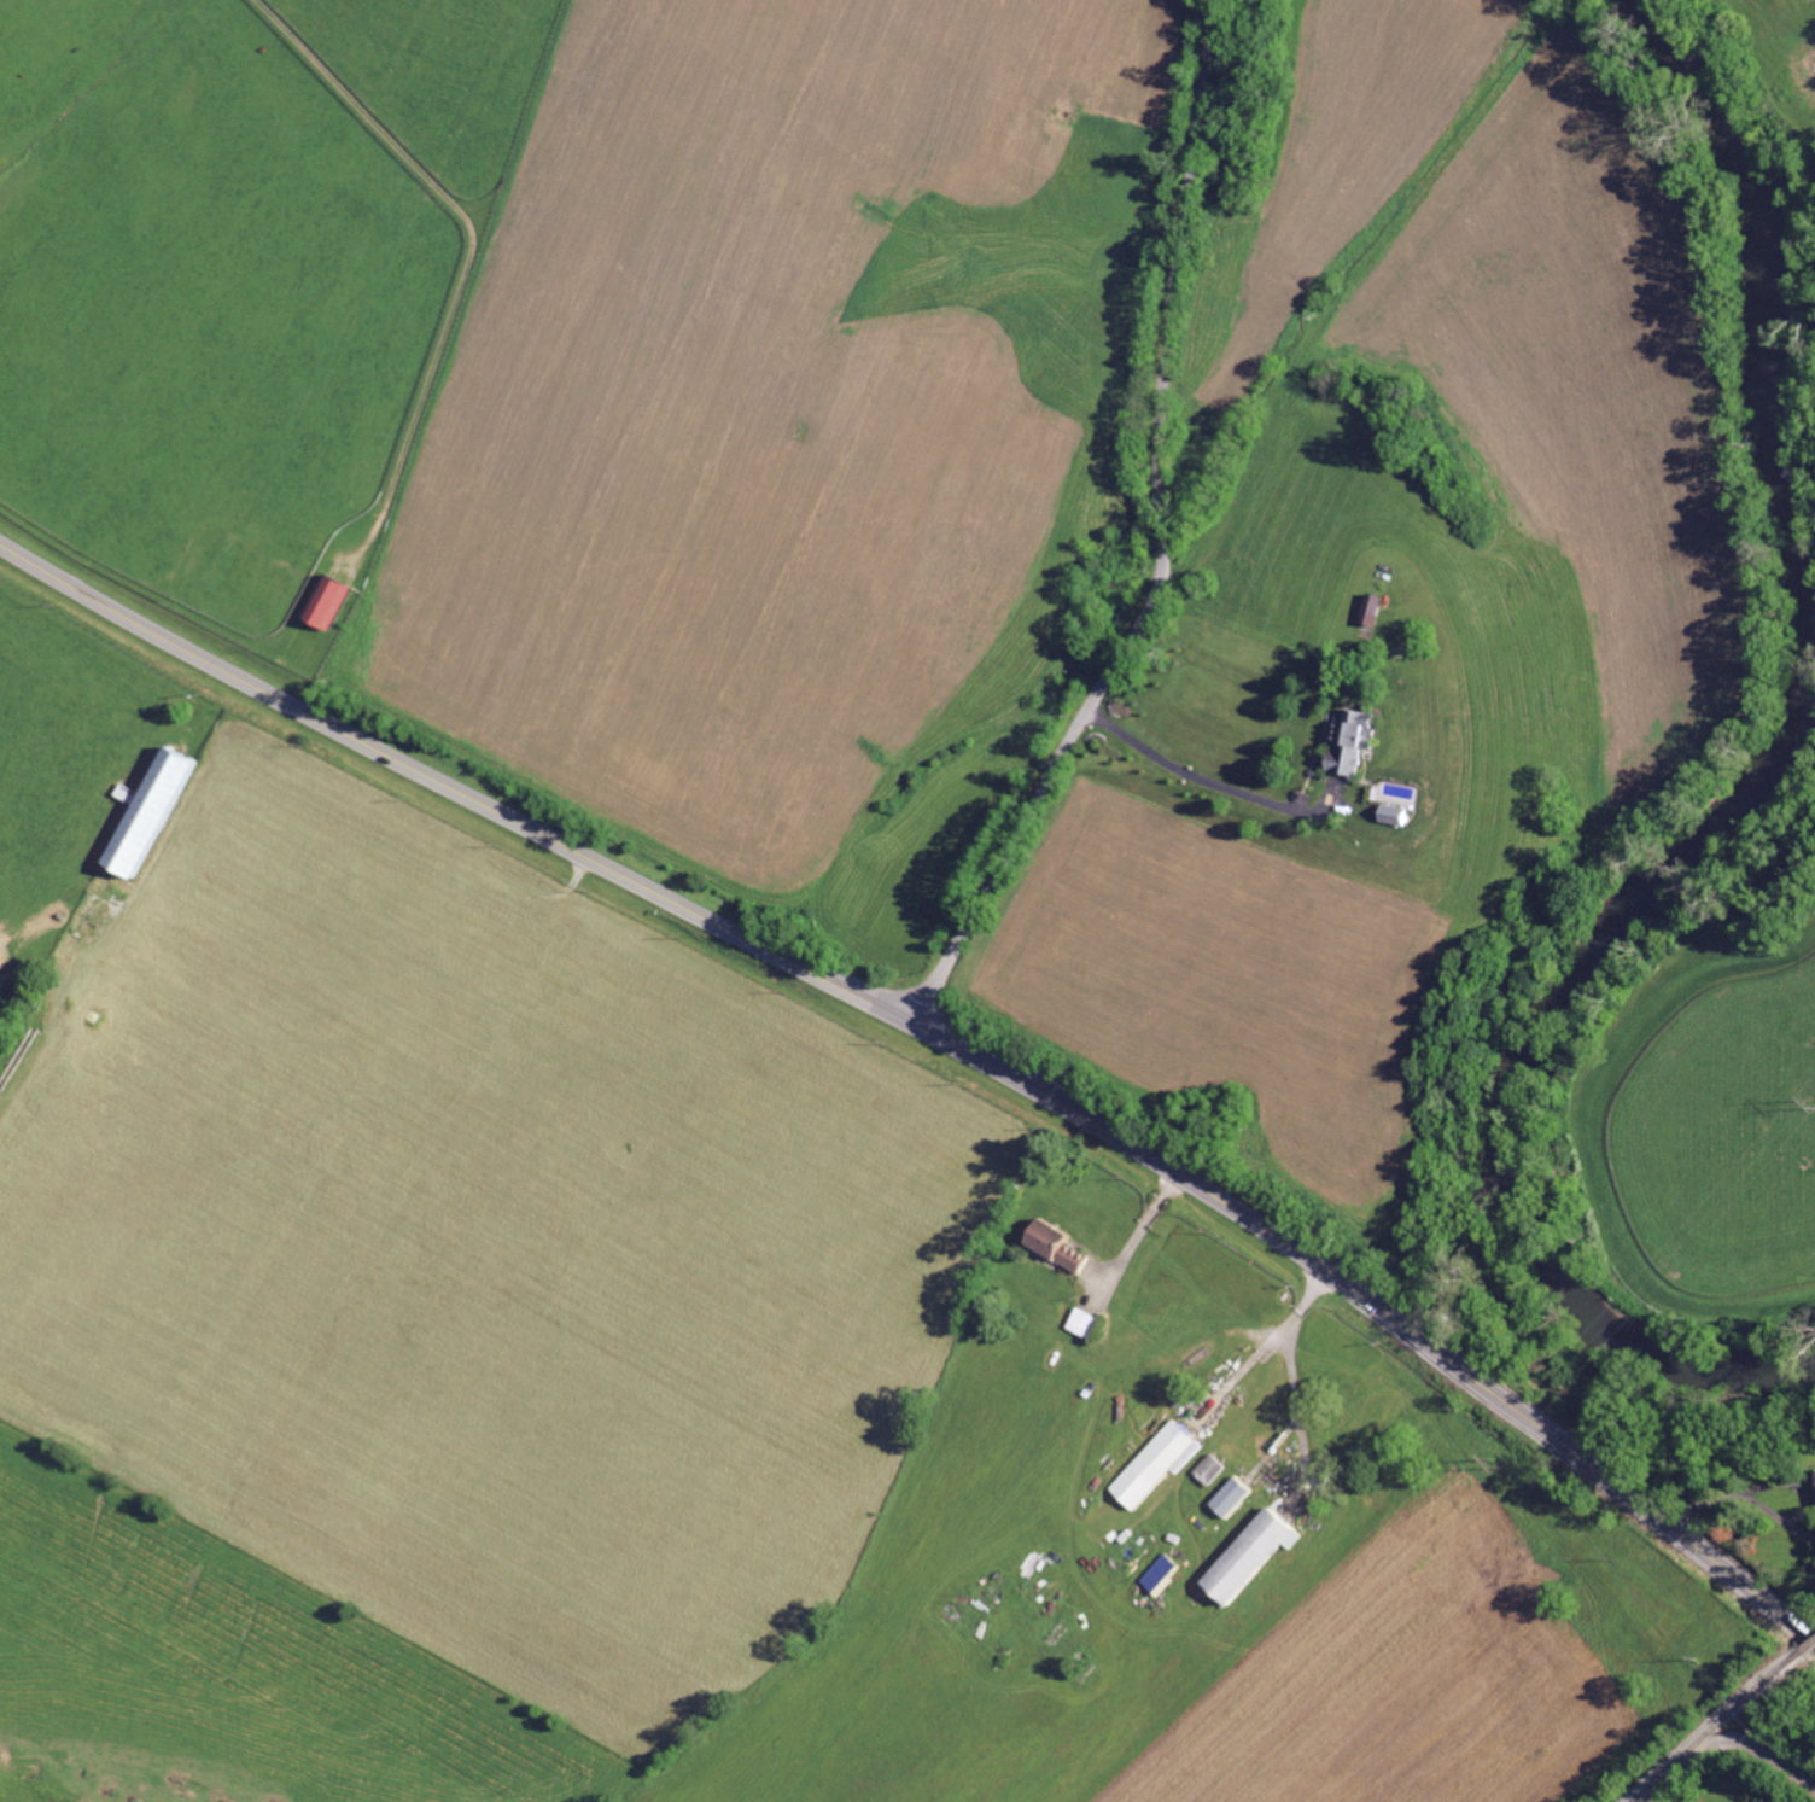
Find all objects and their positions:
road: (1162, 542)
building: (322, 605)
building: (1371, 610)
building: (1348, 743)
road: (1194, 777)
building: (163, 809)
river: (1753, 815)
road: (888, 1011)
power tower: (1814, 1106)
building: (1052, 1244)
power tower: (1500, 1463)
building: (1814, 1474)
building: (1225, 1497)
road: (1740, 1497)
building: (1243, 1555)
building: (1155, 1575)
road: (1769, 1603)
railway: (1809, 1645)
railway: (1718, 1726)
road: (1732, 1743)

